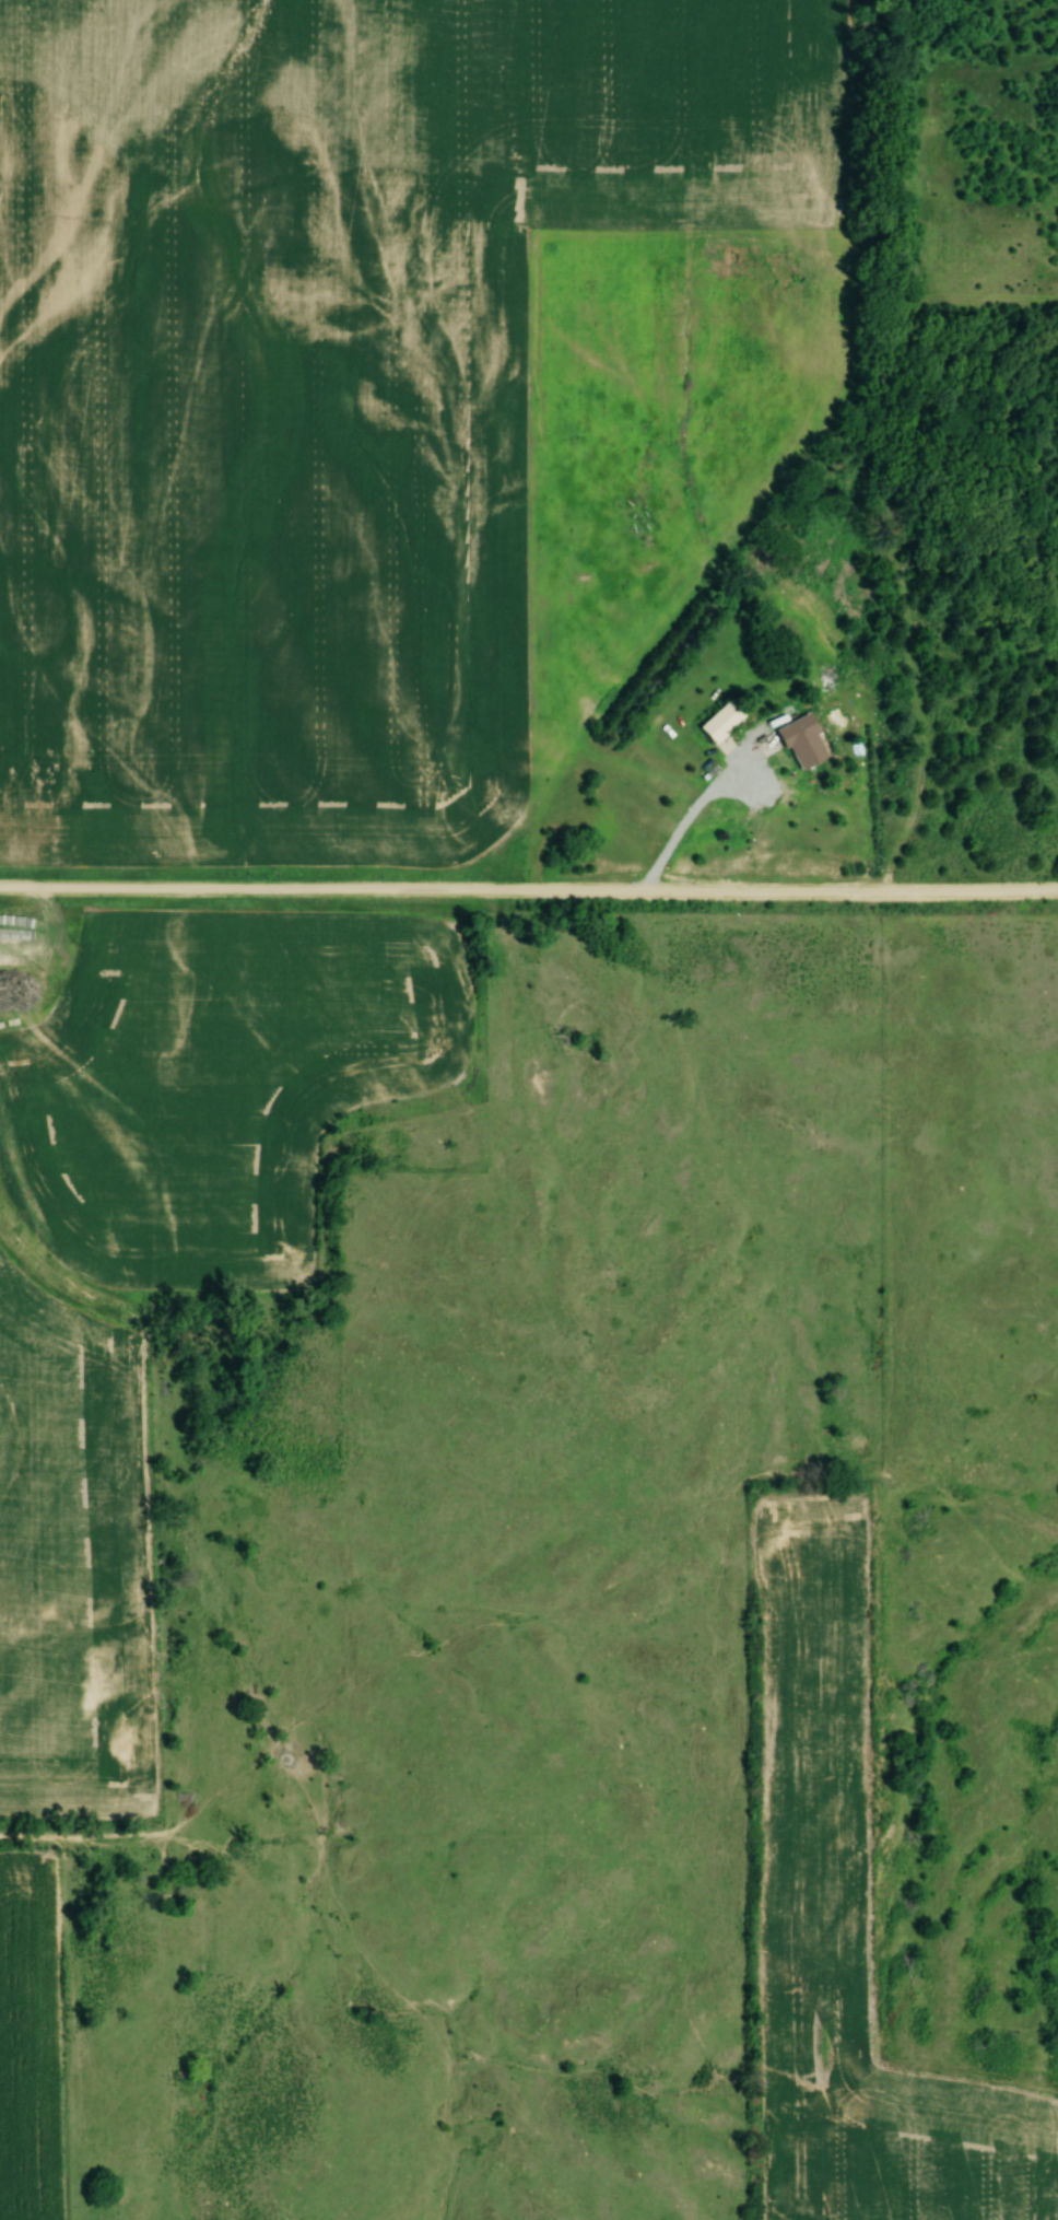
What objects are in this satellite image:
building: (721, 726)
building: (802, 743)
road: (718, 774)
road: (671, 841)
road: (528, 888)

